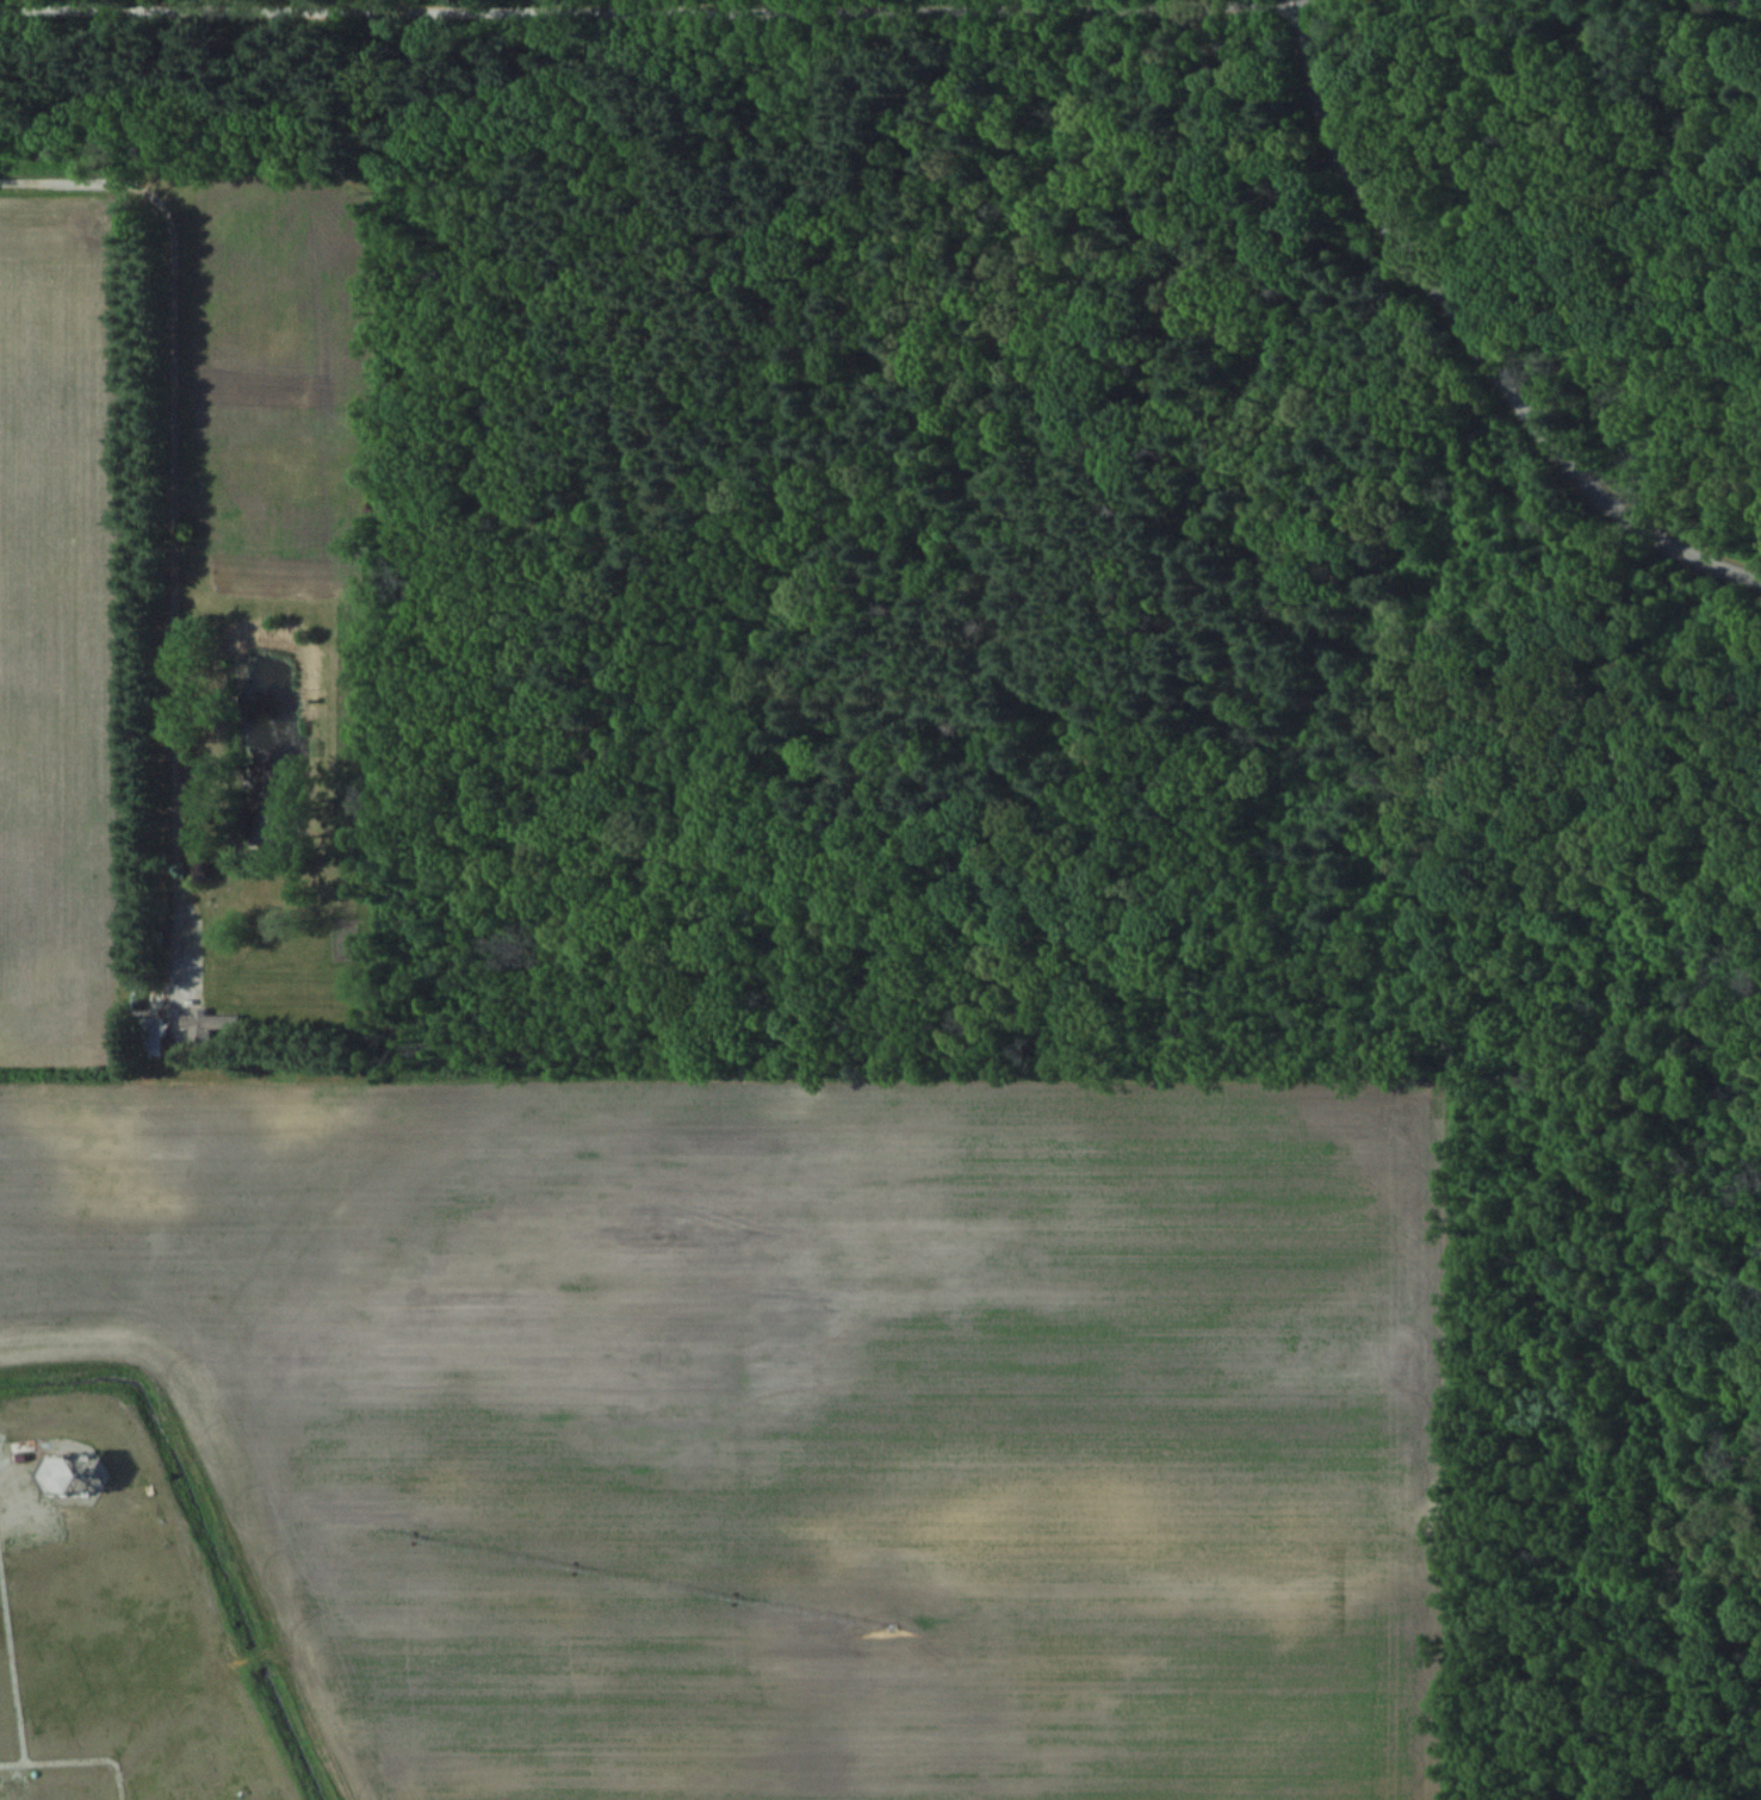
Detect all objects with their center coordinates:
road: (1531, 1)
road: (651, 4)
road: (1471, 342)
building: (212, 1022)
building: (151, 1026)
road: (62, 1068)

